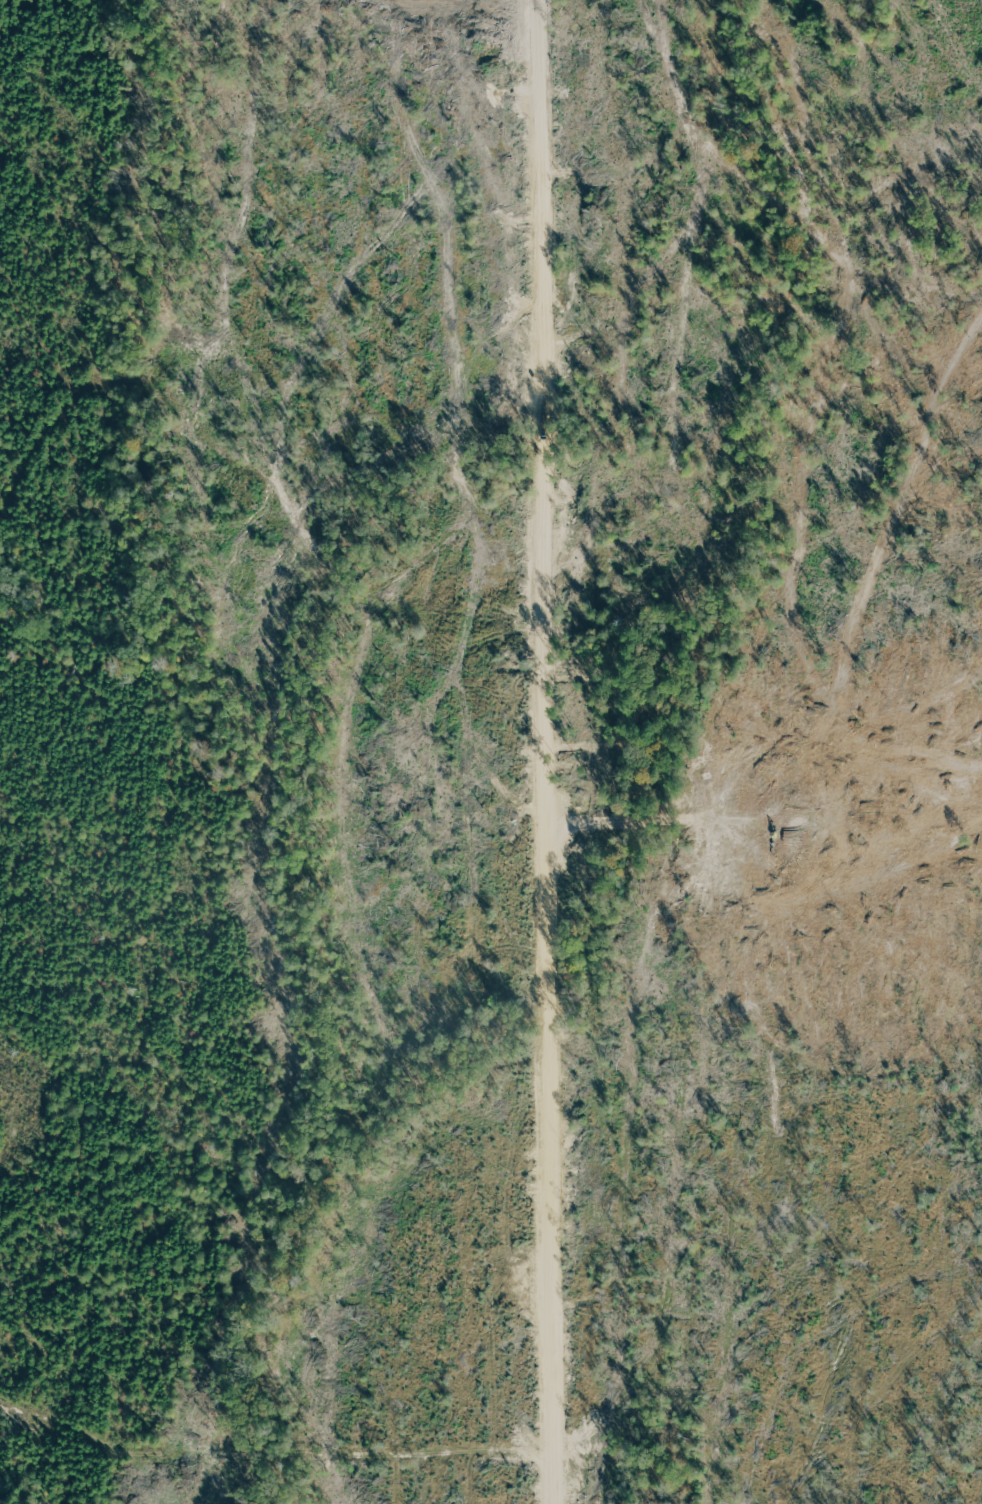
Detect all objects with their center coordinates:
road: (584, 752)

